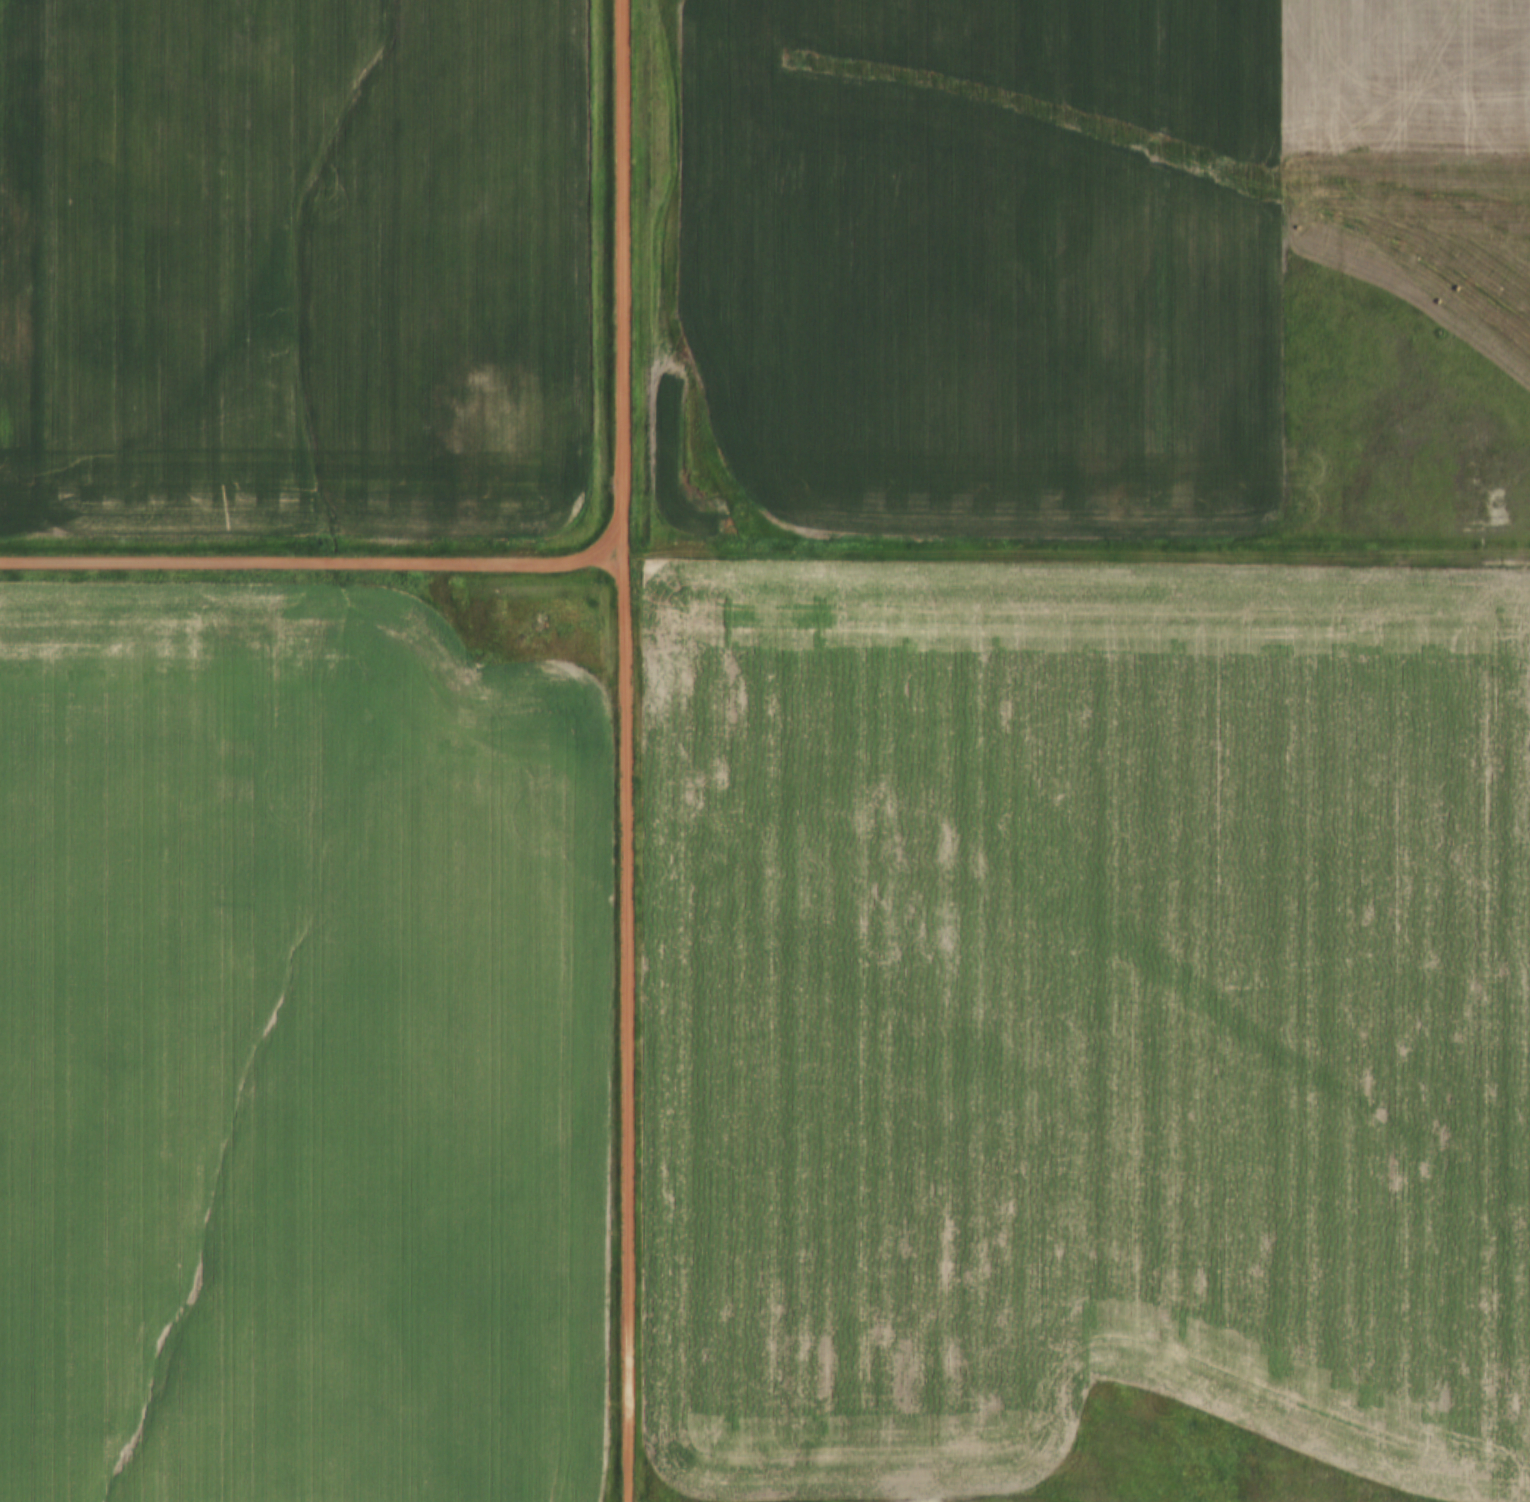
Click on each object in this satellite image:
road: (624, 280)
road: (598, 545)
road: (312, 561)
road: (628, 1031)

